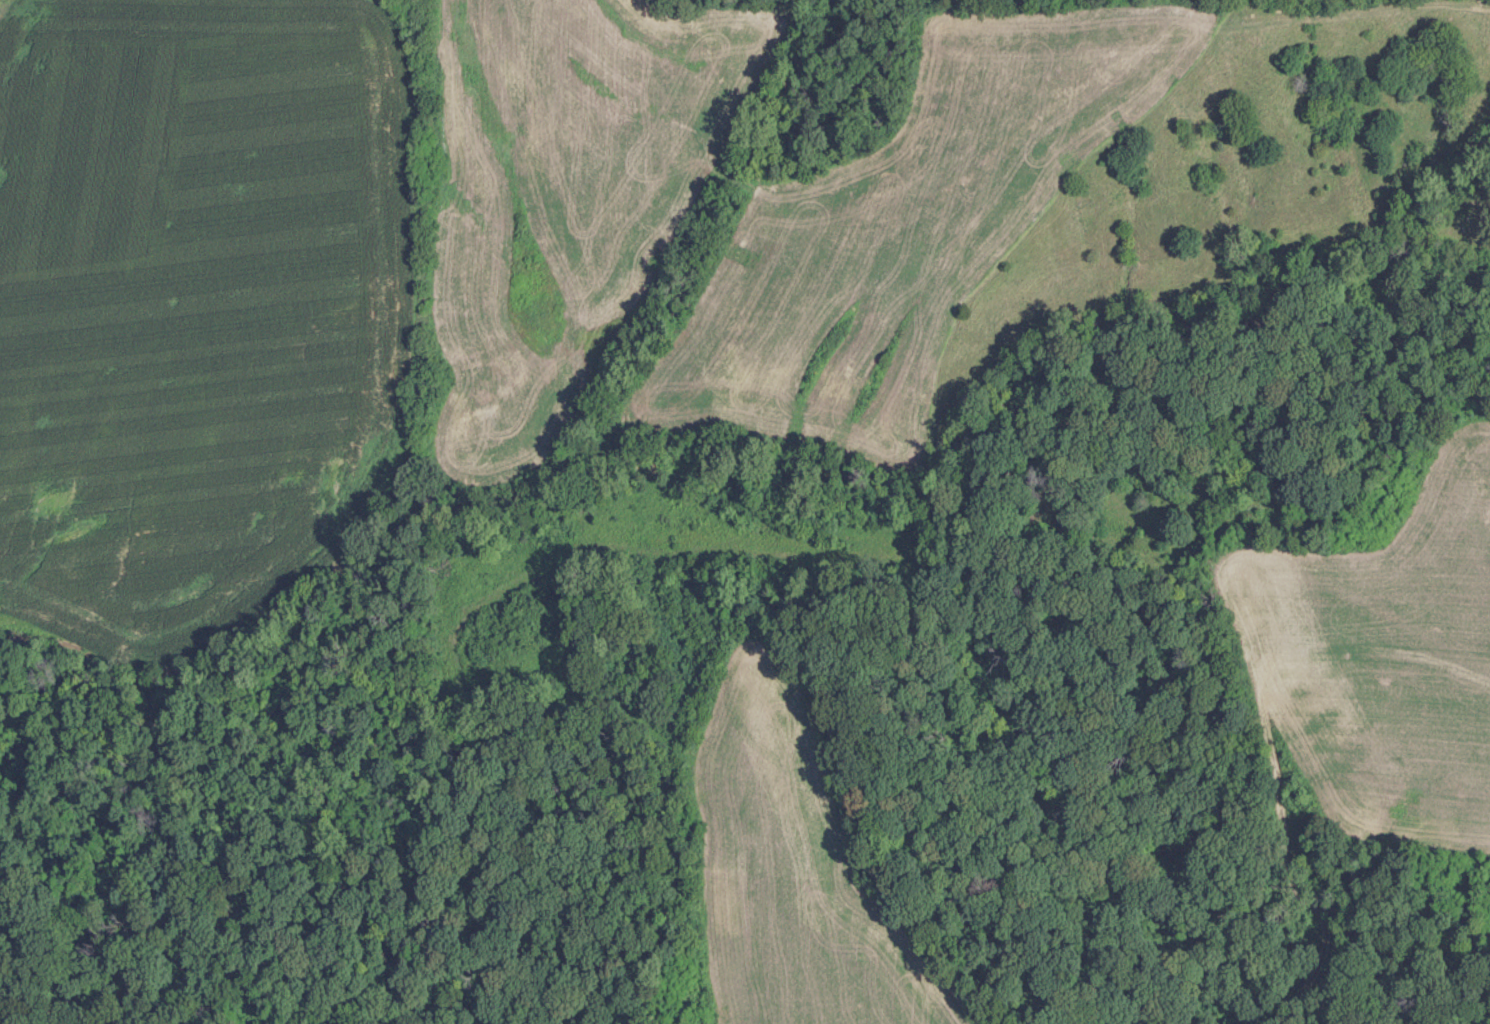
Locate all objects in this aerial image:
crop: (1161, 1)

